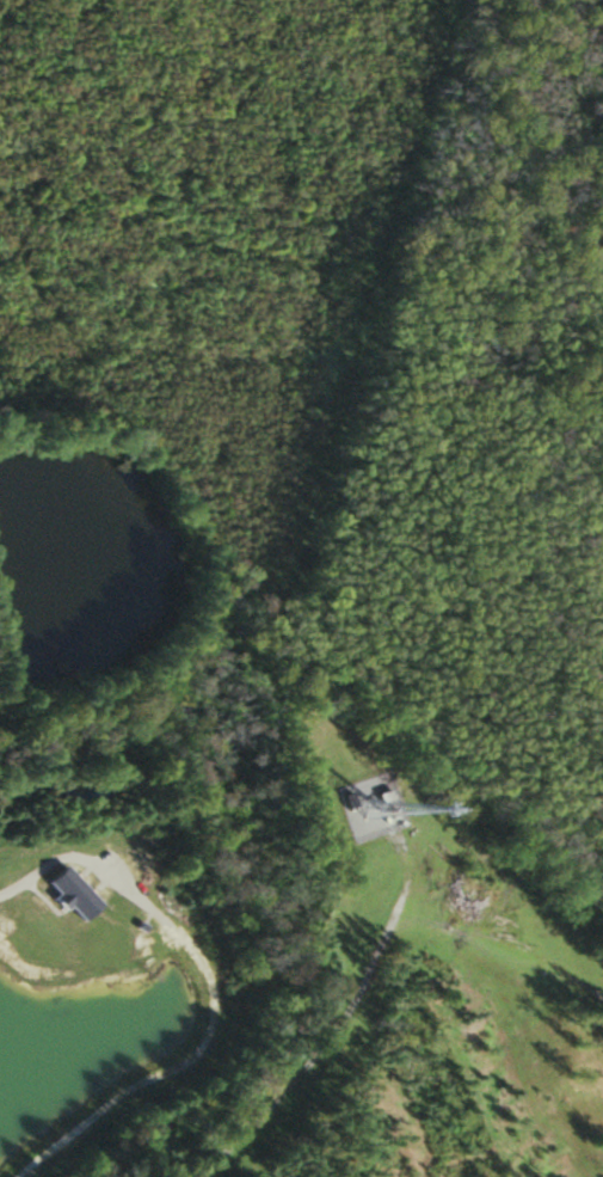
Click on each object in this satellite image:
building: (382, 796)

